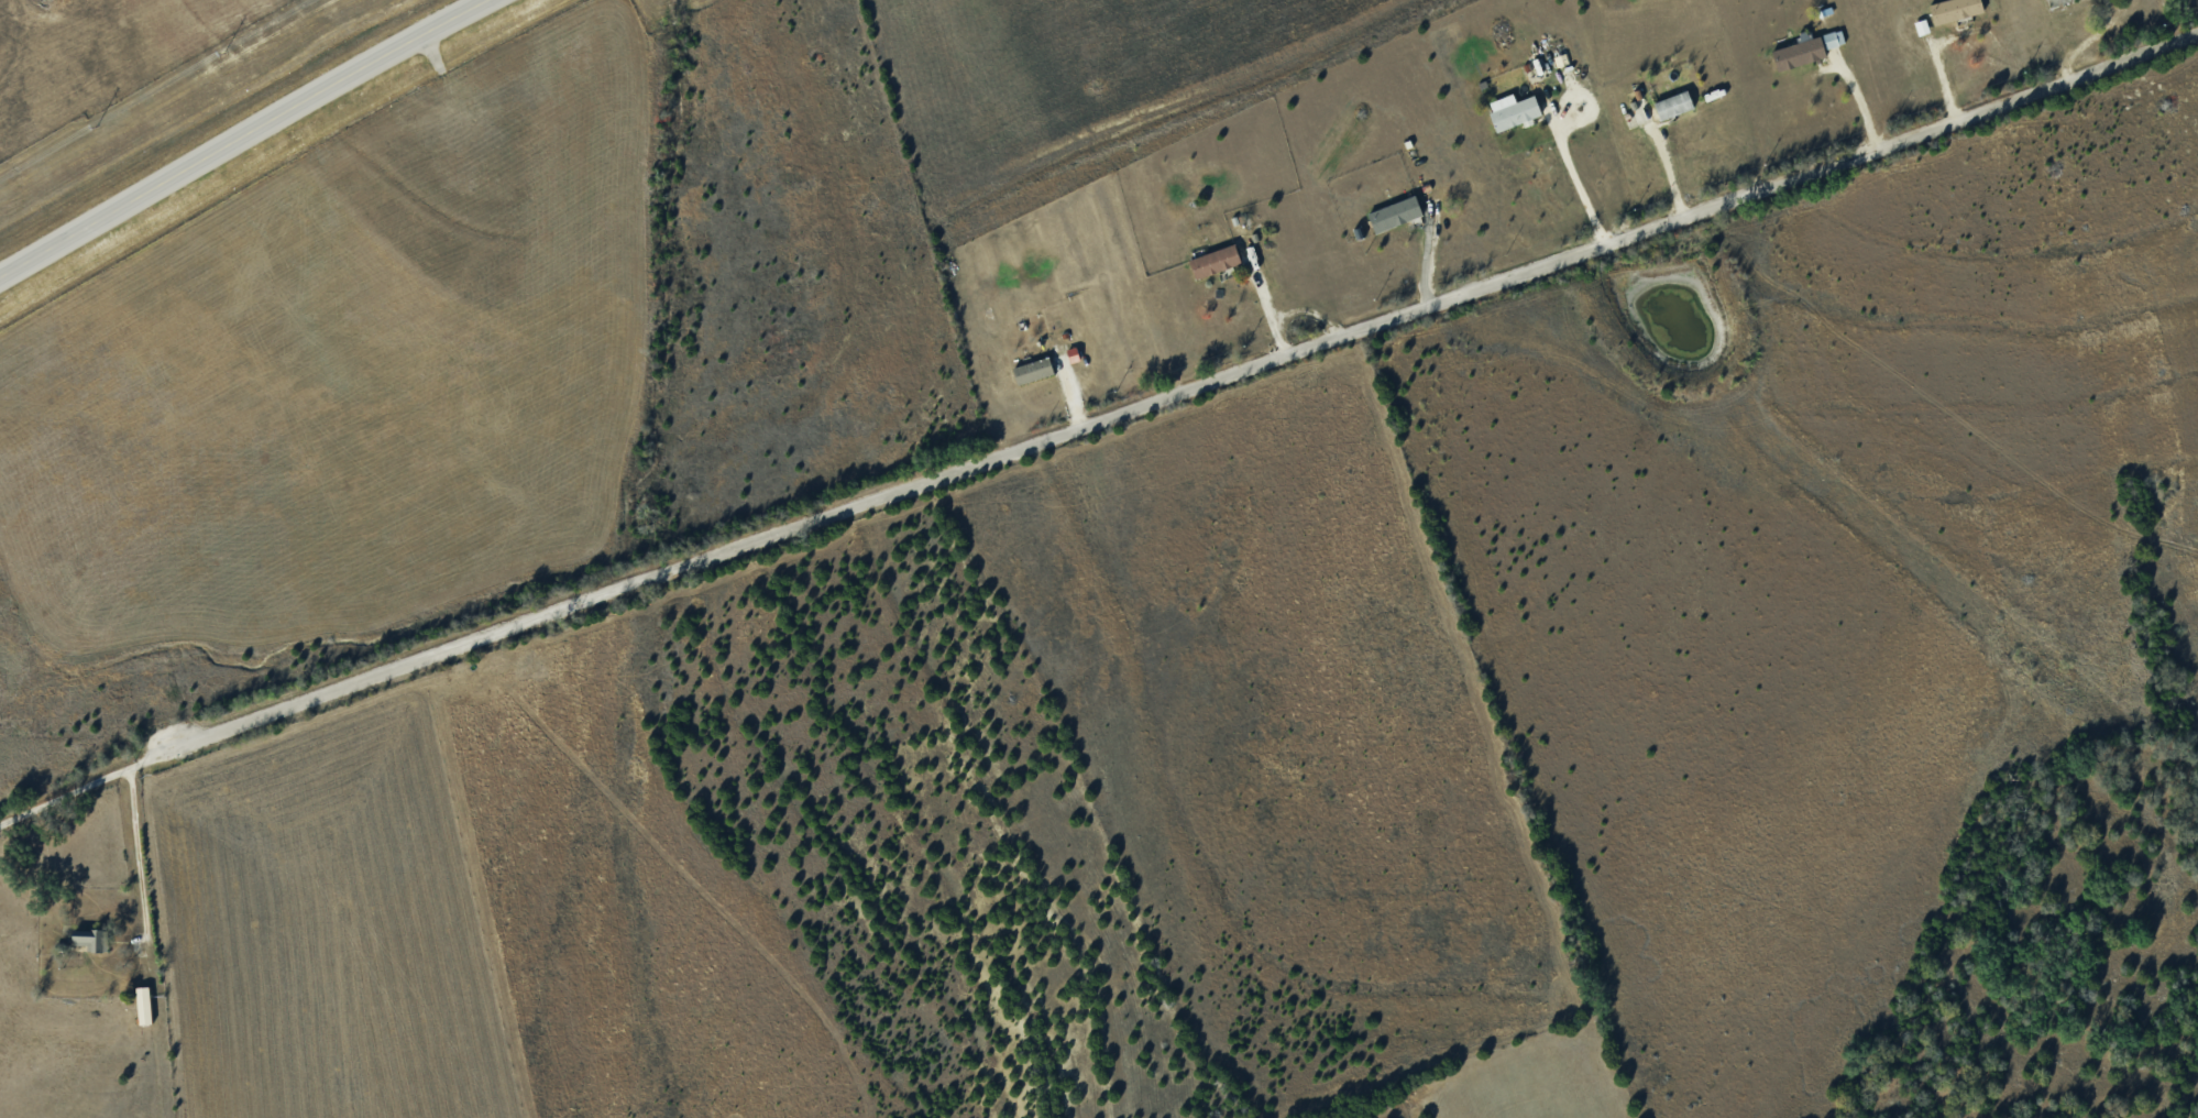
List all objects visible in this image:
building: (1954, 9)
park: (2186, 10)
building: (1833, 39)
building: (1799, 53)
building: (1673, 105)
building: (1513, 111)
road: (250, 136)
road: (1668, 163)
road: (1579, 182)
building: (1395, 213)
building: (1216, 261)
building: (1033, 370)
road: (1162, 397)
road: (64, 794)
road: (139, 847)
building: (91, 939)
building: (144, 1005)

